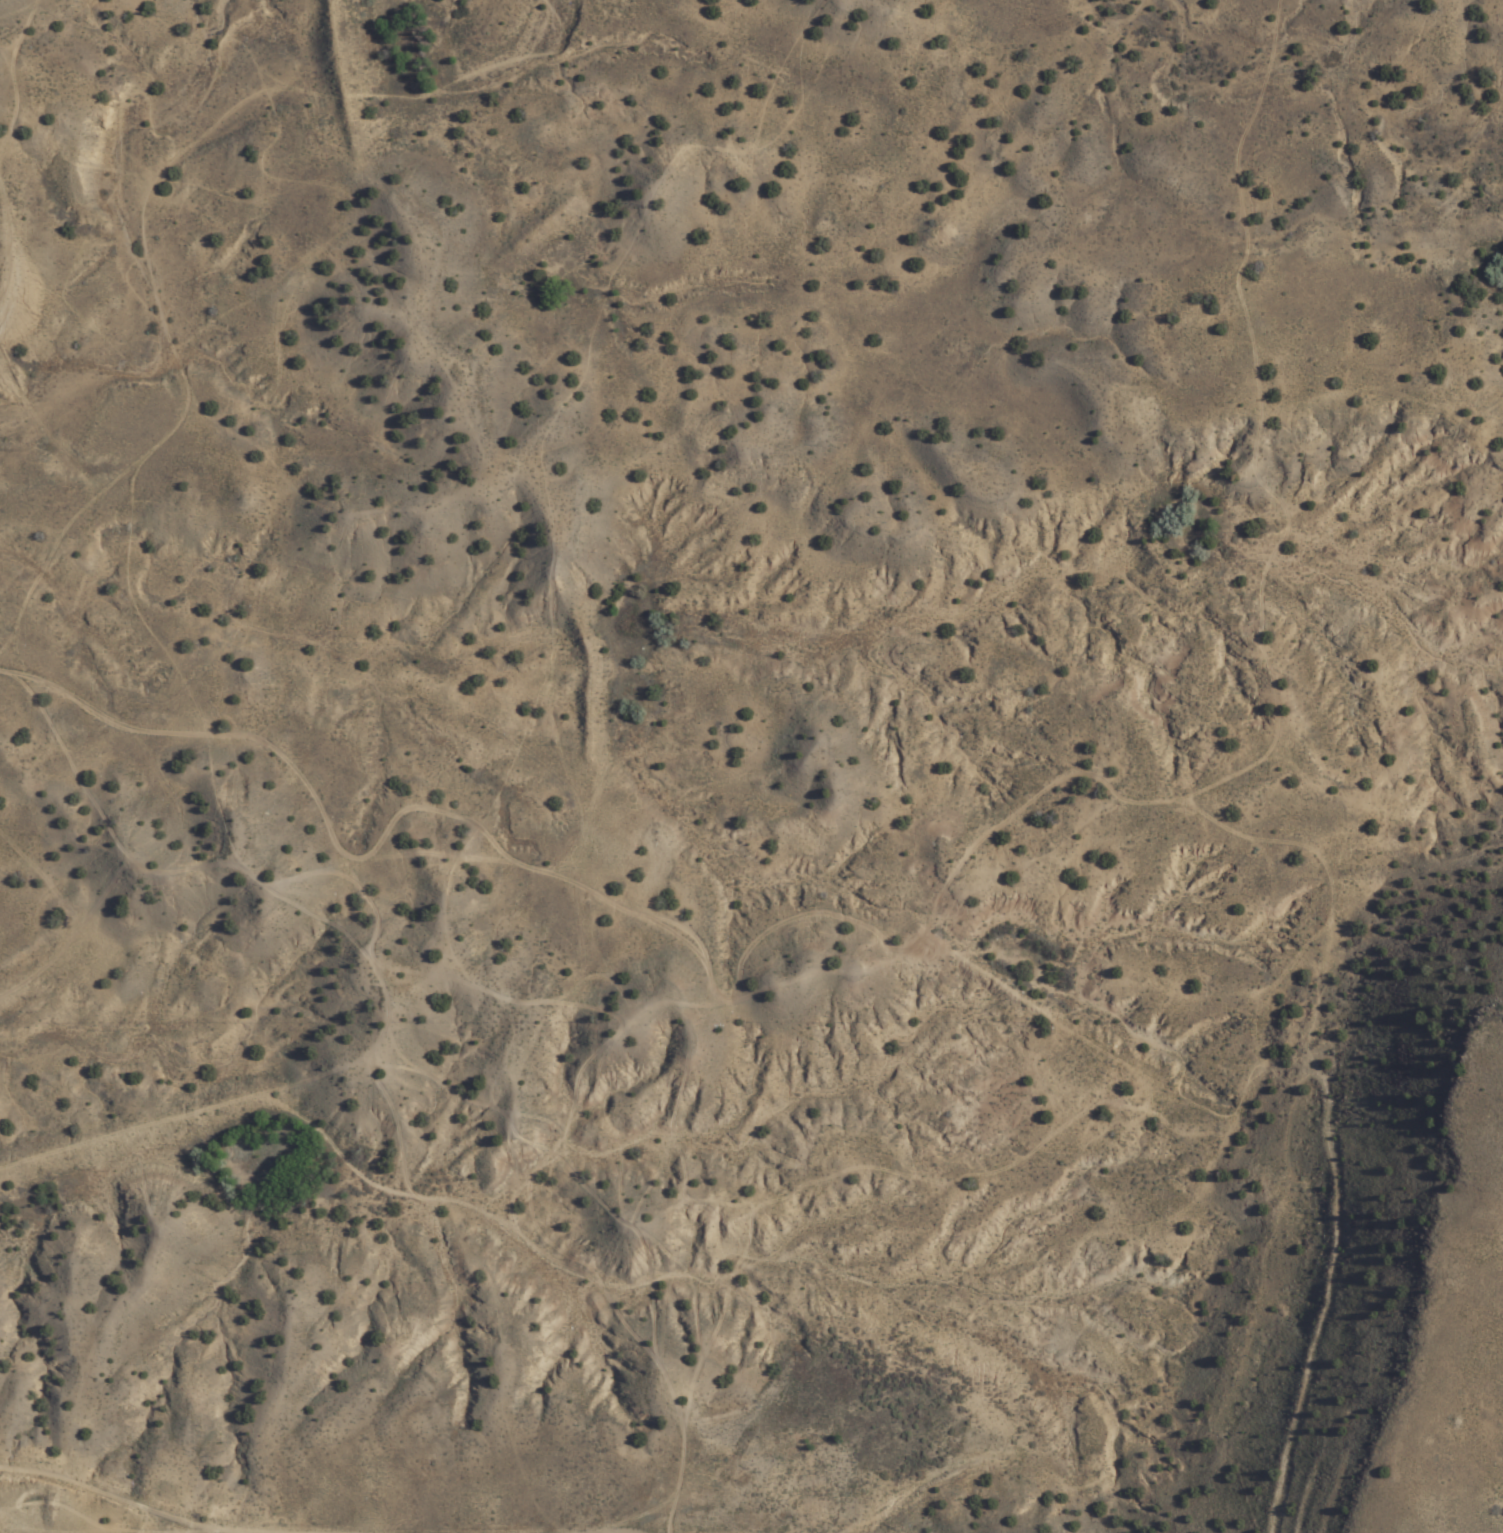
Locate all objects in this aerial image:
road: (23, 1532)

